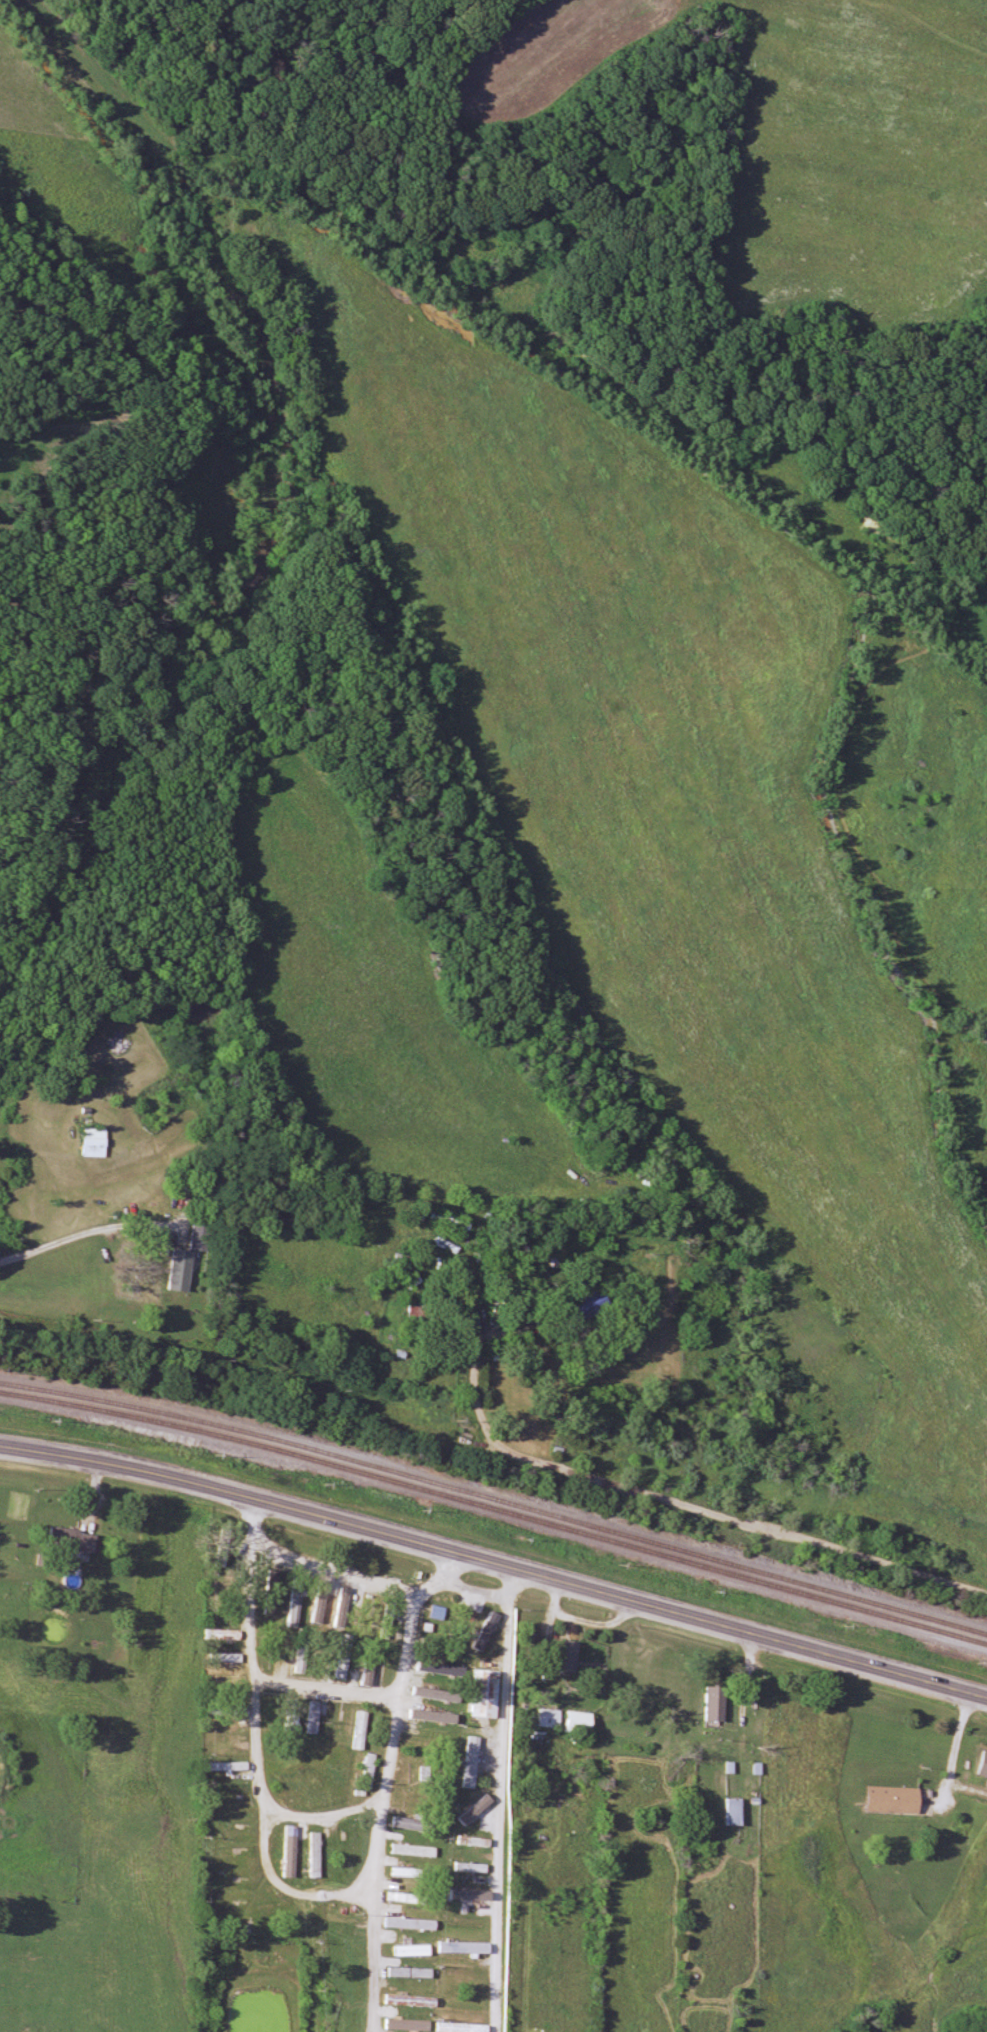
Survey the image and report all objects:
building: (96, 1142)
building: (452, 1222)
building: (200, 1238)
road: (45, 1245)
building: (165, 1246)
building: (592, 1307)
building: (419, 1311)
railway: (495, 1499)
railway: (495, 1509)
building: (74, 1540)
road: (495, 1563)
road: (338, 1568)
road: (475, 1589)
building: (316, 1605)
building: (296, 1606)
road: (574, 1615)
building: (223, 1634)
building: (496, 1634)
building: (226, 1657)
building: (569, 1657)
building: (301, 1661)
building: (344, 1668)
building: (369, 1674)
road: (324, 1688)
building: (487, 1694)
building: (717, 1706)
building: (268, 1713)
building: (314, 1717)
building: (552, 1718)
building: (290, 1720)
building: (581, 1722)
building: (361, 1730)
building: (476, 1758)
building: (984, 1765)
building: (233, 1766)
building: (368, 1771)
road: (502, 1799)
building: (895, 1800)
building: (408, 1801)
building: (737, 1811)
road: (301, 1818)
building: (234, 1819)
building: (405, 1822)
building: (475, 1841)
building: (414, 1850)
building: (314, 1855)
building: (472, 1867)
building: (467, 1895)
building: (403, 1897)
road: (374, 1917)
building: (411, 1924)
building: (465, 1947)
building: (412, 1948)
building: (411, 2000)
building: (466, 2006)
building: (410, 2024)
building: (464, 2027)

